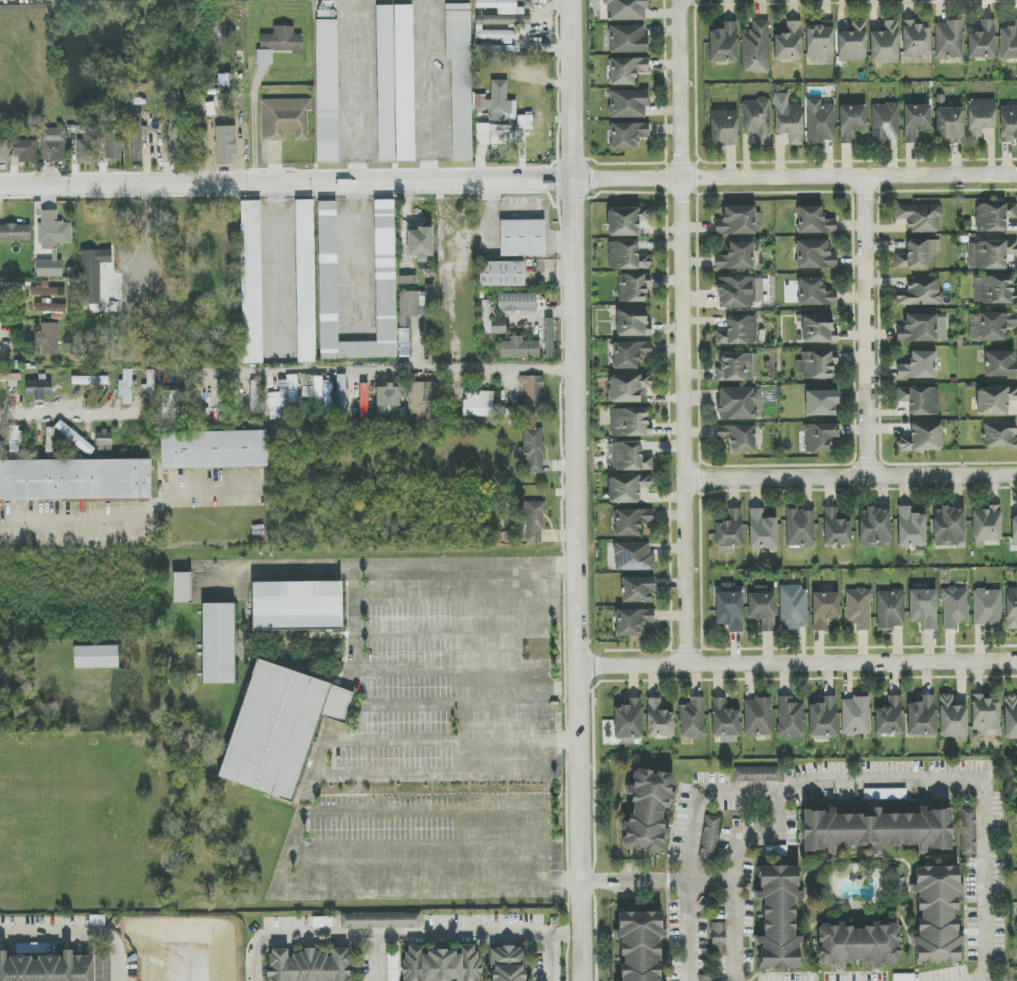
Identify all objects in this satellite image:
road: (509, 4)
building: (626, 10)
building: (499, 18)
building: (627, 39)
building: (916, 39)
building: (819, 40)
building: (948, 40)
building: (982, 41)
building: (1008, 42)
building: (278, 43)
building: (723, 43)
building: (788, 43)
building: (853, 43)
building: (885, 44)
building: (756, 49)
building: (495, 50)
building: (626, 70)
building: (460, 79)
building: (395, 83)
building: (326, 91)
building: (496, 102)
building: (628, 104)
building: (980, 118)
building: (284, 119)
building: (788, 119)
building: (757, 120)
building: (948, 120)
building: (916, 121)
building: (524, 122)
building: (820, 122)
building: (851, 122)
building: (885, 123)
building: (1008, 124)
road: (254, 125)
building: (723, 127)
building: (482, 134)
building: (627, 135)
building: (137, 137)
building: (175, 139)
building: (200, 142)
building: (53, 145)
building: (114, 145)
building: (225, 150)
building: (4, 151)
building: (26, 151)
building: (85, 151)
road: (508, 178)
building: (994, 216)
building: (920, 217)
building: (626, 221)
building: (736, 221)
building: (814, 221)
building: (15, 233)
building: (522, 238)
building: (52, 243)
building: (420, 243)
building: (919, 254)
building: (990, 254)
building: (814, 255)
building: (626, 256)
building: (736, 257)
building: (385, 271)
building: (93, 273)
building: (501, 274)
building: (305, 281)
building: (251, 282)
building: (632, 287)
building: (46, 290)
building: (994, 290)
building: (739, 291)
building: (921, 292)
building: (814, 293)
building: (516, 302)
building: (408, 307)
building: (428, 307)
building: (51, 310)
building: (492, 321)
building: (632, 322)
building: (991, 326)
road: (865, 327)
building: (923, 328)
building: (818, 329)
building: (738, 331)
road: (684, 332)
building: (549, 338)
building: (48, 339)
building: (404, 343)
building: (519, 349)
building: (629, 354)
building: (1000, 364)
building: (817, 365)
building: (918, 366)
road: (385, 368)
building: (738, 368)
building: (89, 380)
building: (126, 387)
building: (312, 387)
building: (627, 387)
building: (38, 388)
building: (533, 392)
building: (252, 395)
building: (341, 397)
building: (283, 399)
building: (387, 400)
building: (920, 400)
building: (995, 400)
building: (198, 401)
building: (363, 401)
building: (424, 401)
building: (328, 402)
building: (821, 403)
building: (478, 404)
building: (739, 404)
building: (172, 405)
road: (66, 413)
building: (630, 423)
building: (999, 435)
building: (73, 437)
building: (738, 437)
building: (819, 437)
building: (923, 438)
building: (14, 439)
building: (104, 440)
building: (213, 450)
building: (532, 450)
building: (629, 457)
road: (851, 476)
building: (75, 479)
building: (627, 488)
road: (575, 490)
building: (534, 522)
building: (631, 522)
building: (986, 525)
road: (141, 526)
building: (949, 526)
building: (874, 528)
building: (911, 528)
building: (836, 529)
building: (730, 530)
building: (762, 530)
building: (800, 530)
building: (1014, 531)
building: (633, 557)
road: (411, 566)
building: (182, 587)
building: (637, 590)
road: (450, 598)
building: (296, 606)
building: (954, 607)
building: (793, 608)
building: (923, 608)
building: (987, 608)
building: (1011, 608)
building: (729, 609)
building: (824, 609)
building: (858, 609)
building: (890, 609)
building: (762, 610)
building: (632, 622)
road: (450, 635)
building: (218, 644)
building: (95, 657)
road: (796, 665)
road: (449, 668)
road: (453, 705)
building: (985, 713)
building: (758, 716)
building: (855, 716)
building: (921, 716)
building: (889, 717)
building: (1010, 717)
building: (790, 718)
building: (823, 718)
building: (952, 718)
building: (693, 719)
building: (724, 719)
building: (628, 720)
building: (659, 720)
road: (541, 722)
building: (279, 728)
road: (430, 773)
building: (756, 774)
road: (874, 782)
building: (885, 794)
road: (425, 810)
building: (647, 811)
building: (876, 830)
building: (968, 831)
road: (301, 832)
building: (709, 838)
road: (690, 847)
road: (419, 849)
road: (654, 879)
building: (936, 915)
building: (778, 917)
building: (97, 920)
building: (380, 921)
building: (322, 922)
road: (76, 934)
road: (401, 939)
building: (718, 939)
building: (639, 945)
building: (857, 945)
road: (549, 959)
road: (378, 960)
building: (441, 964)
building: (507, 964)
building: (310, 966)
building: (392, 966)
building: (104, 967)
building: (47, 968)
building: (904, 977)
building: (706, 978)

